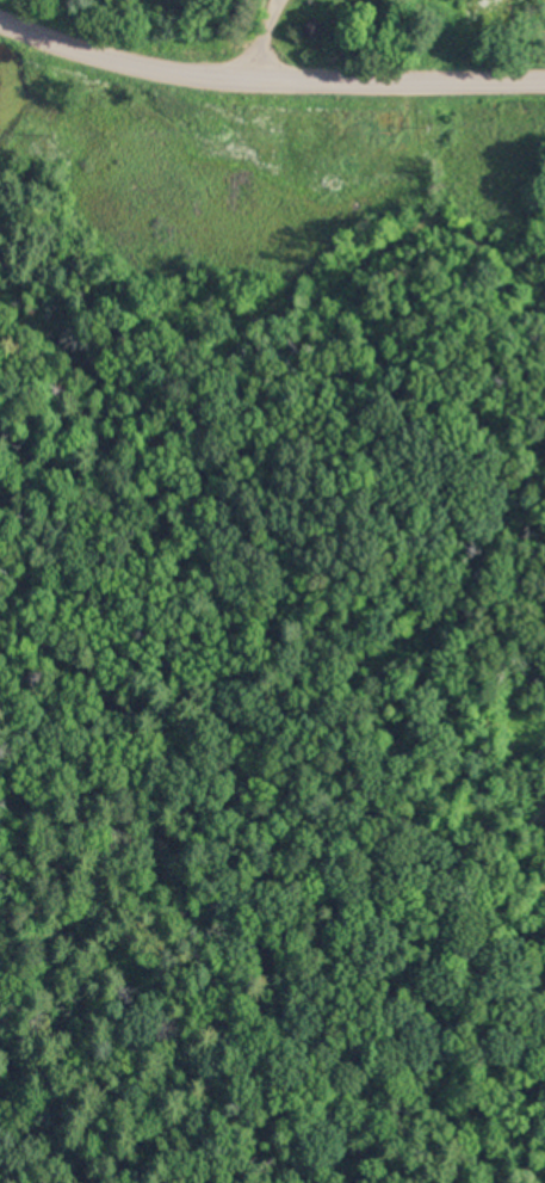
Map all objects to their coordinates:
road: (268, 87)

